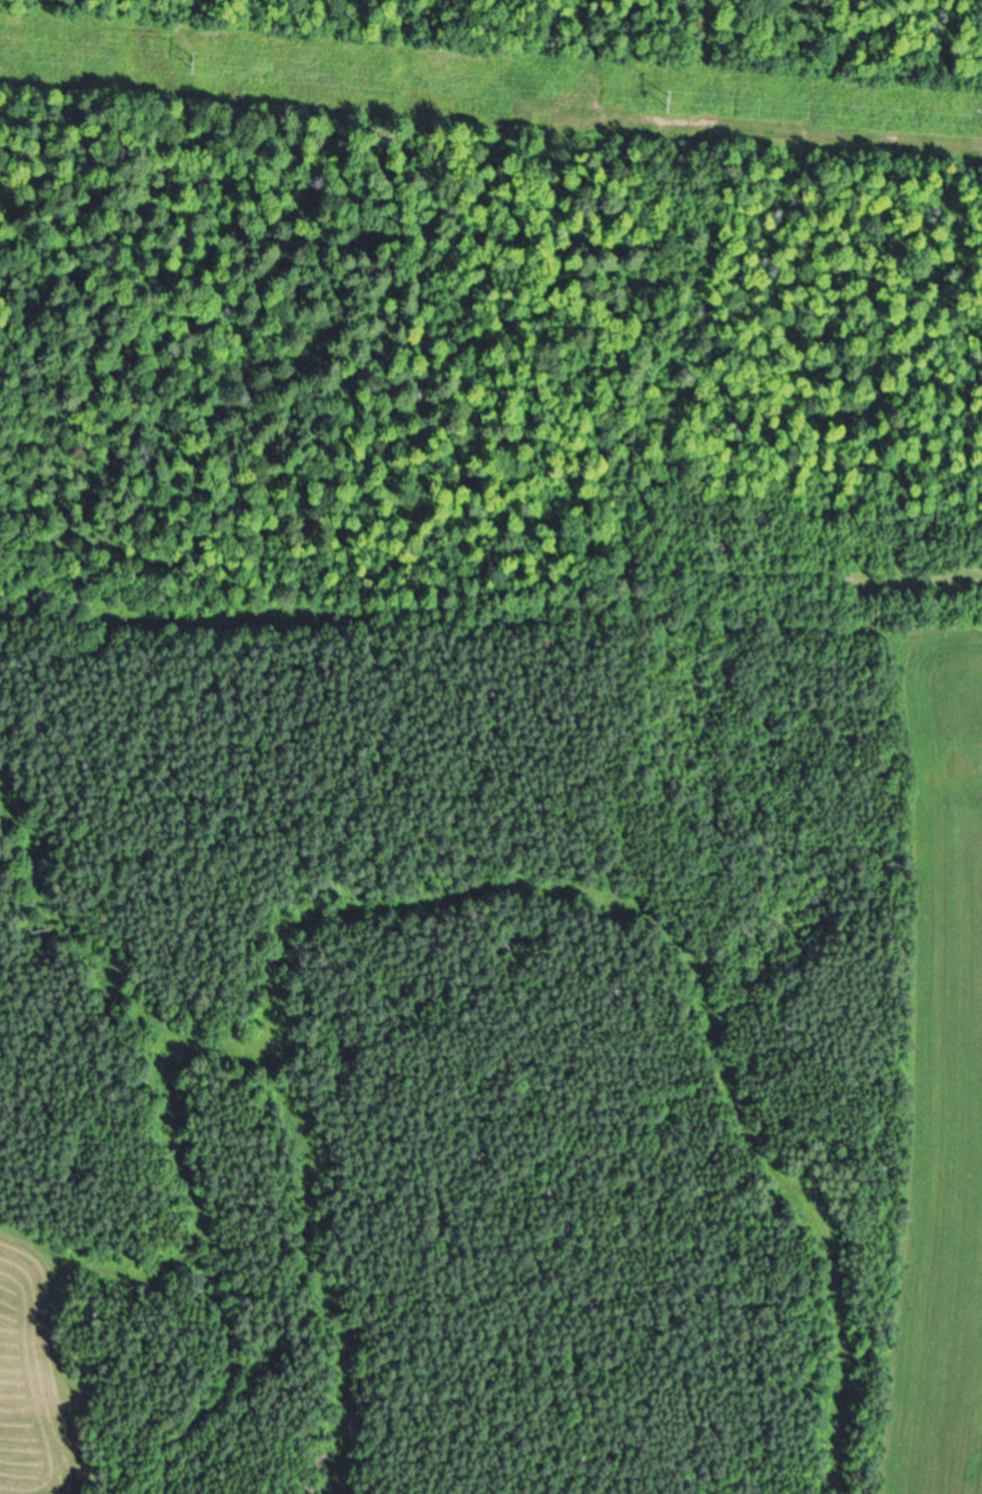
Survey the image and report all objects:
power tower: (207, 63)
power tower: (665, 105)

